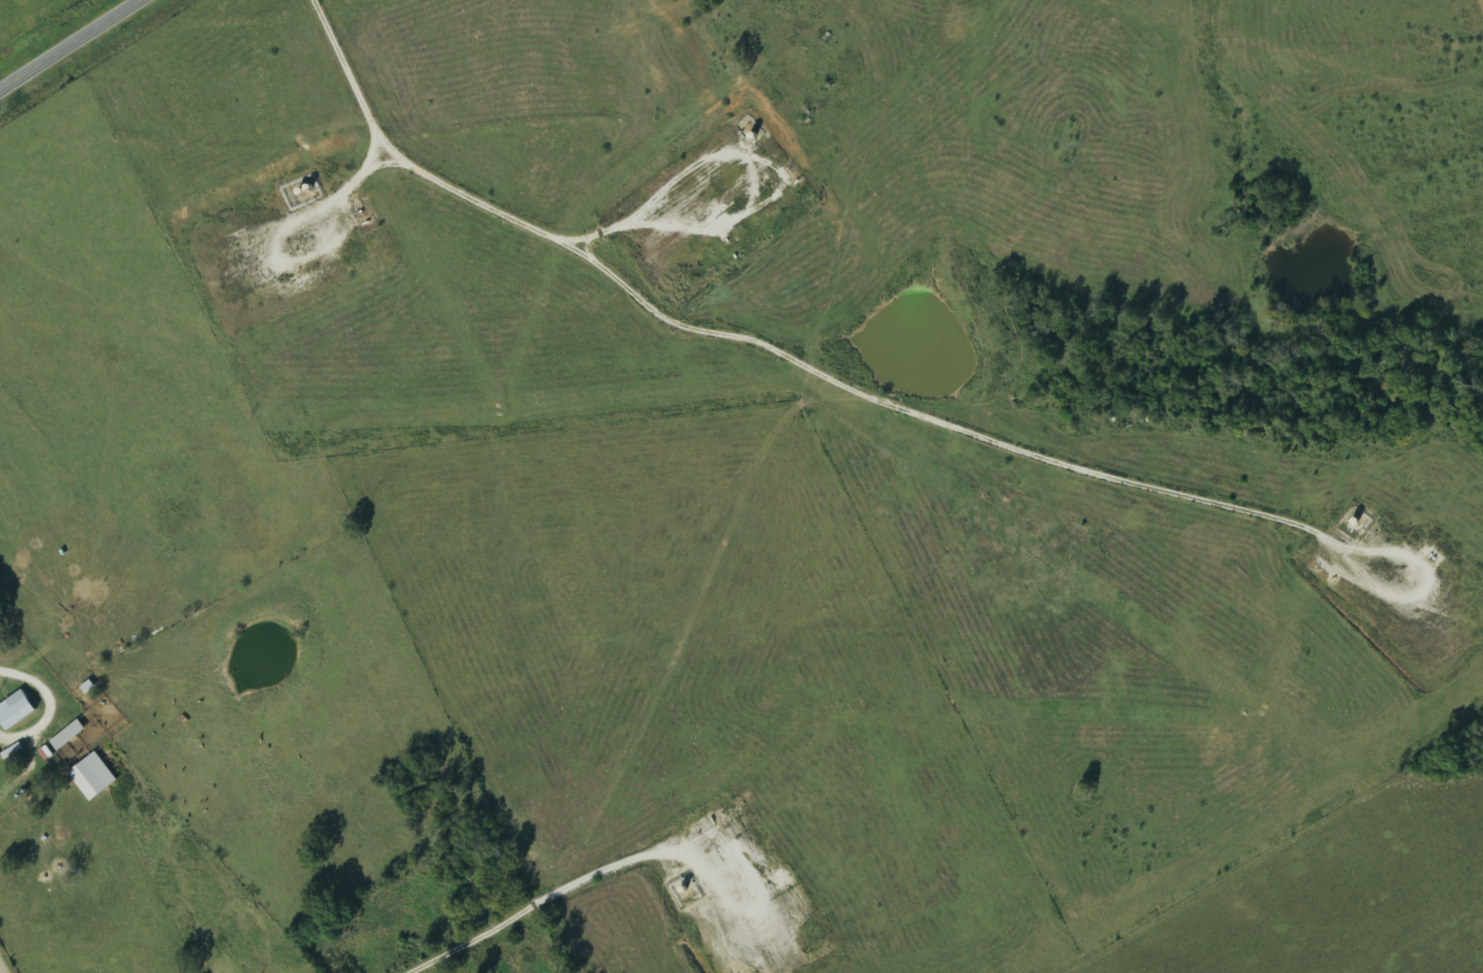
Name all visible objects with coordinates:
road: (68, 44)
building: (18, 710)
building: (70, 735)
building: (47, 753)
building: (0, 761)
building: (95, 777)
road: (1, 970)

